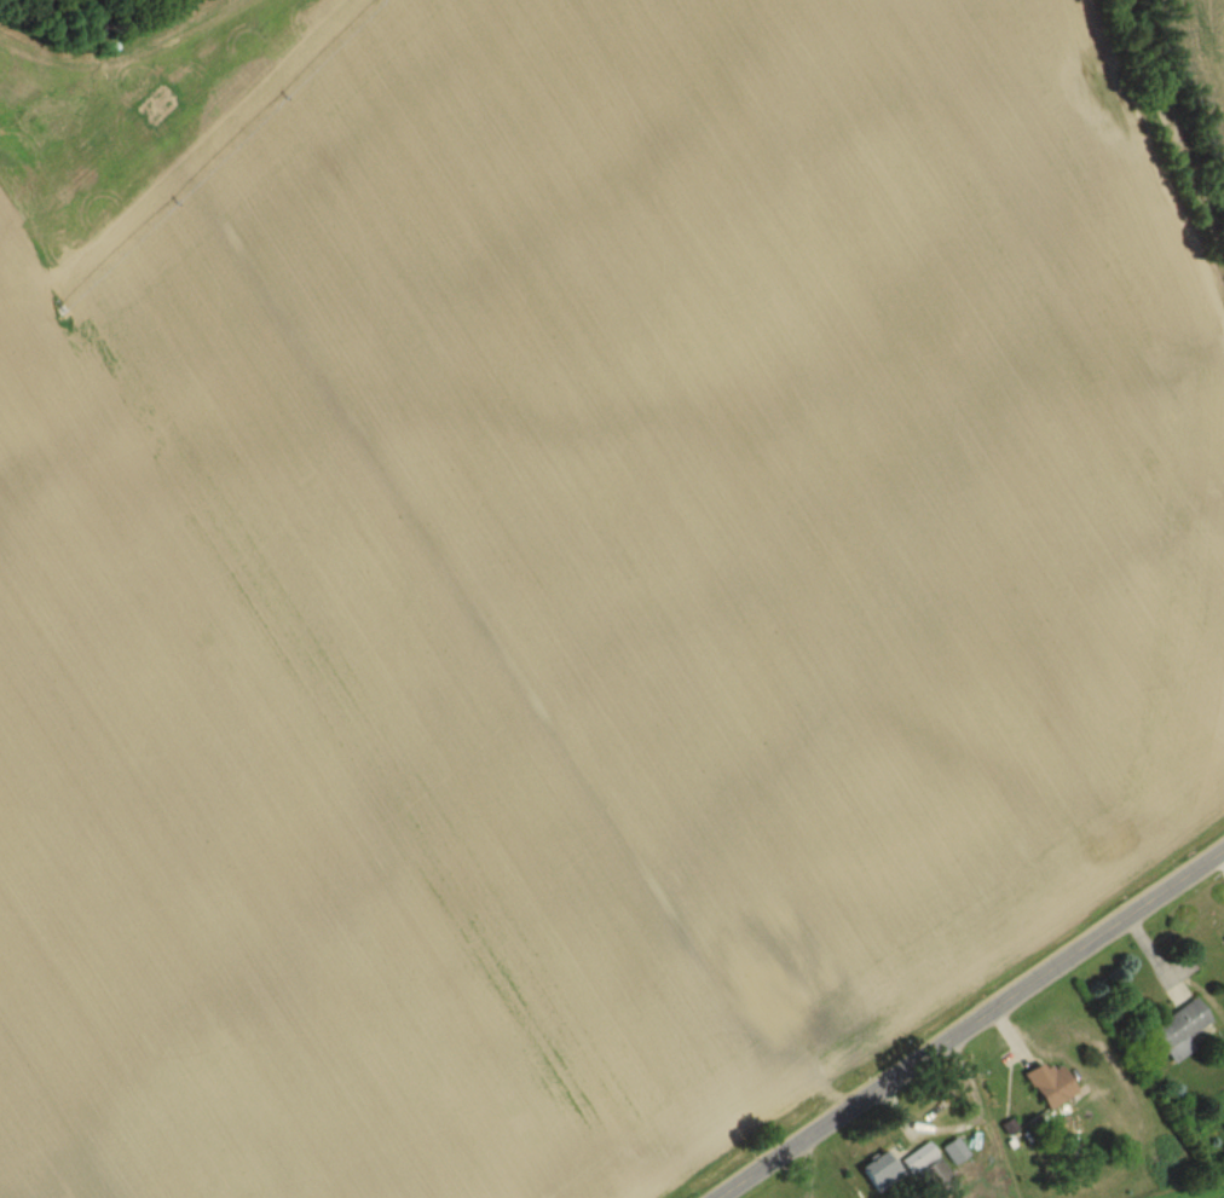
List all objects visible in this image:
road: (1172, 125)
building: (798, 997)
road: (969, 1023)
building: (1180, 1030)
building: (1050, 1084)
building: (954, 1151)
building: (929, 1169)
building: (882, 1170)

